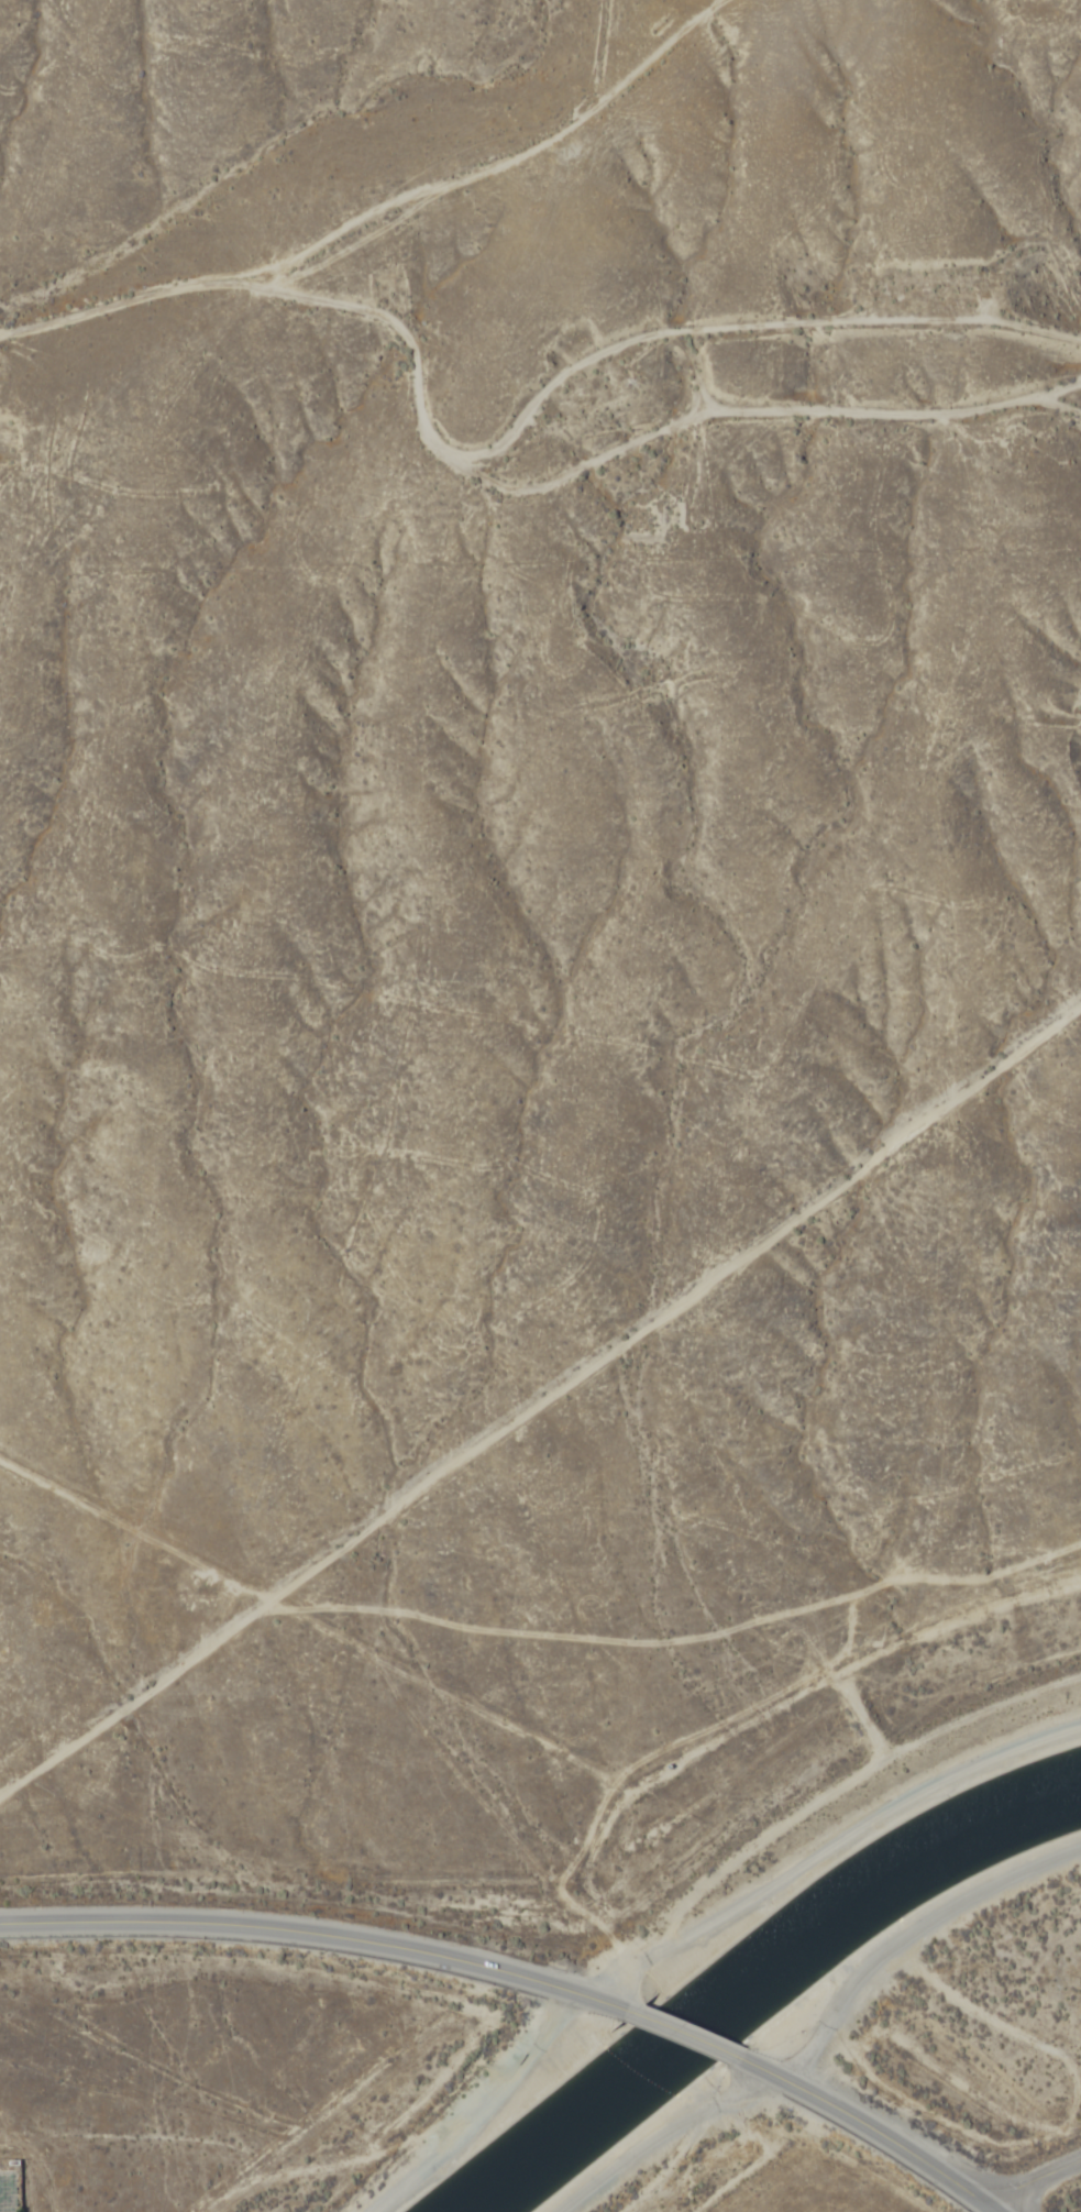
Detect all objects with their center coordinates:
road: (0, 328)
road: (525, 432)
road: (540, 1397)
road: (696, 1927)
road: (320, 1937)
road: (821, 2029)
road: (684, 2033)
road: (868, 2130)
road: (1034, 2182)

